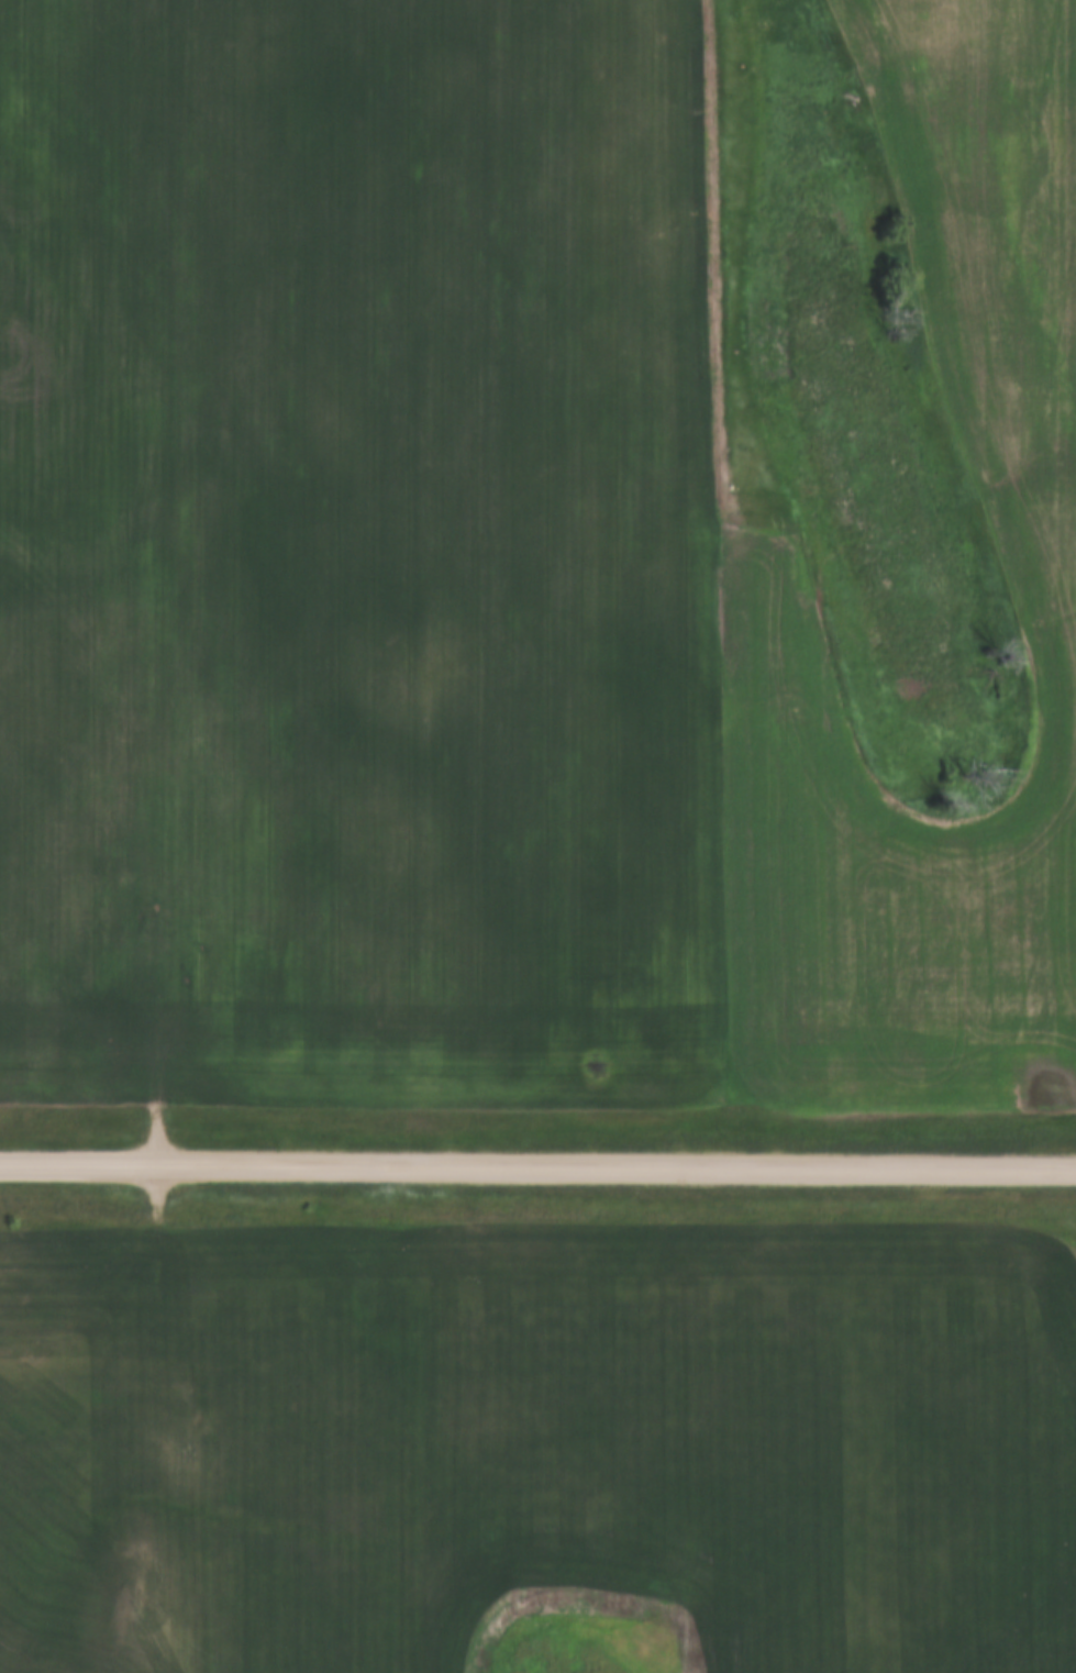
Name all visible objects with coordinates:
road: (537, 1156)

